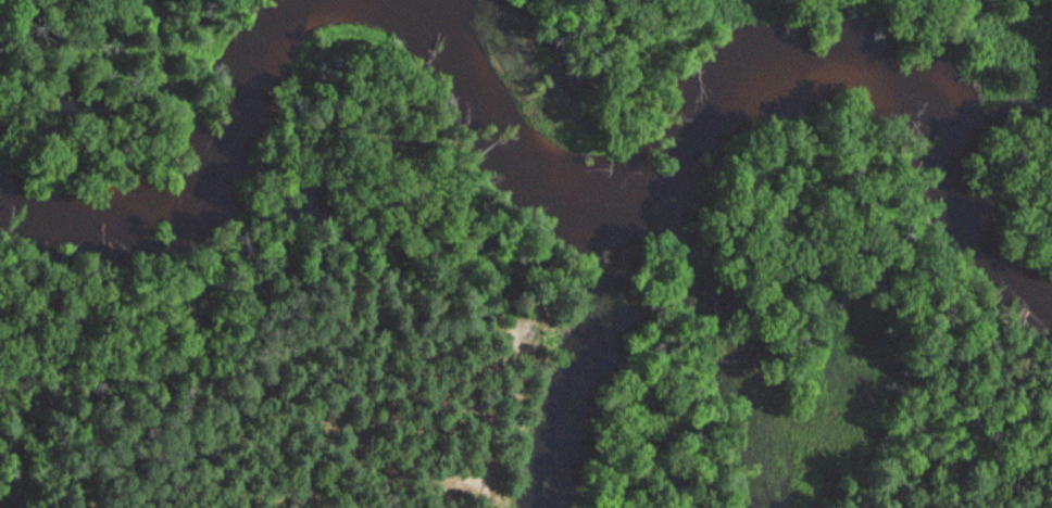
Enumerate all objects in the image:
river: (722, 104)
river: (199, 169)

